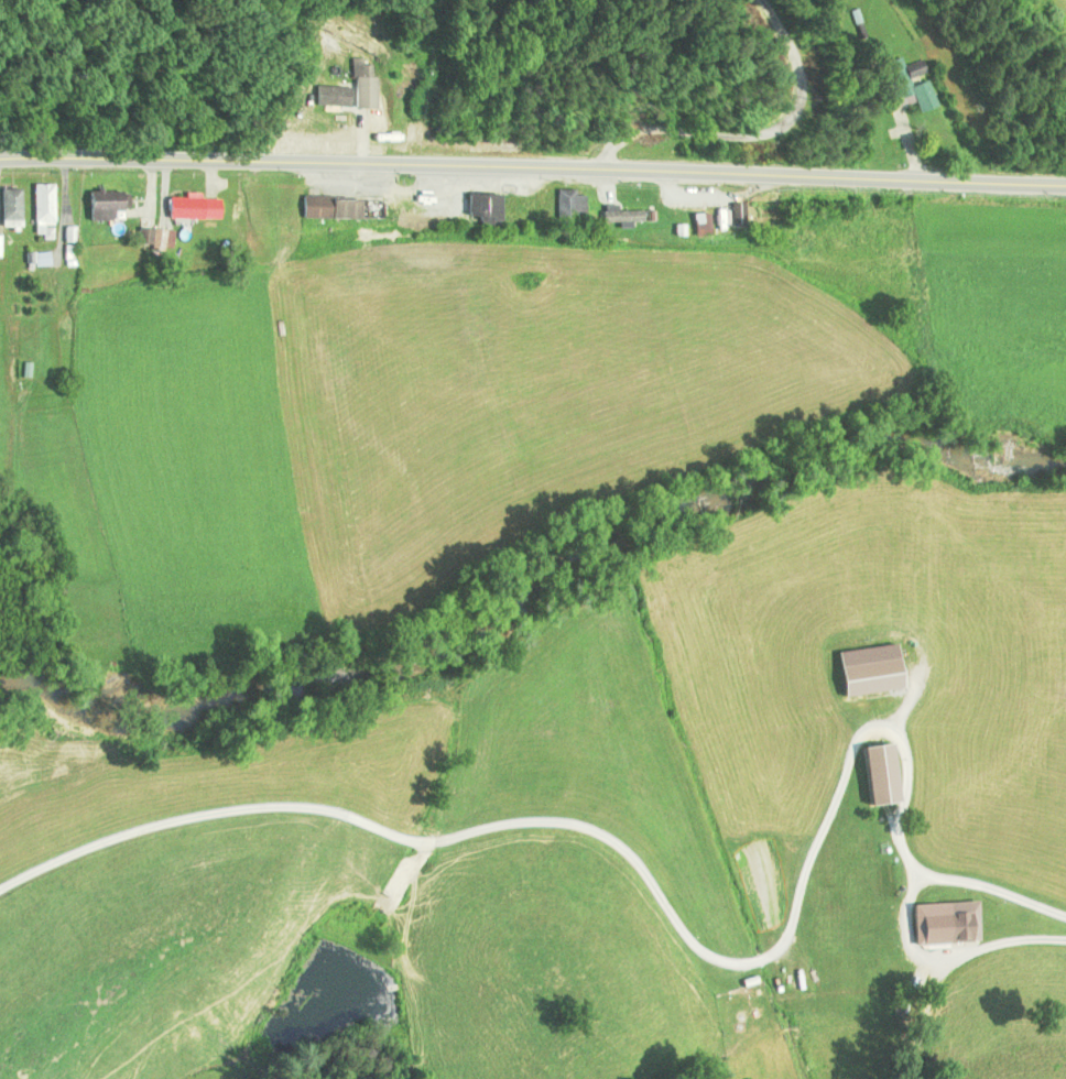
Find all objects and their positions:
building: (912, 86)
road: (747, 133)
road: (533, 166)
building: (44, 204)
building: (101, 204)
building: (569, 206)
building: (11, 207)
building: (192, 207)
building: (339, 207)
building: (481, 207)
building: (390, 208)
building: (603, 208)
building: (637, 217)
building: (697, 222)
building: (0, 246)
river: (535, 585)
building: (874, 773)
building: (885, 880)
building: (955, 926)

